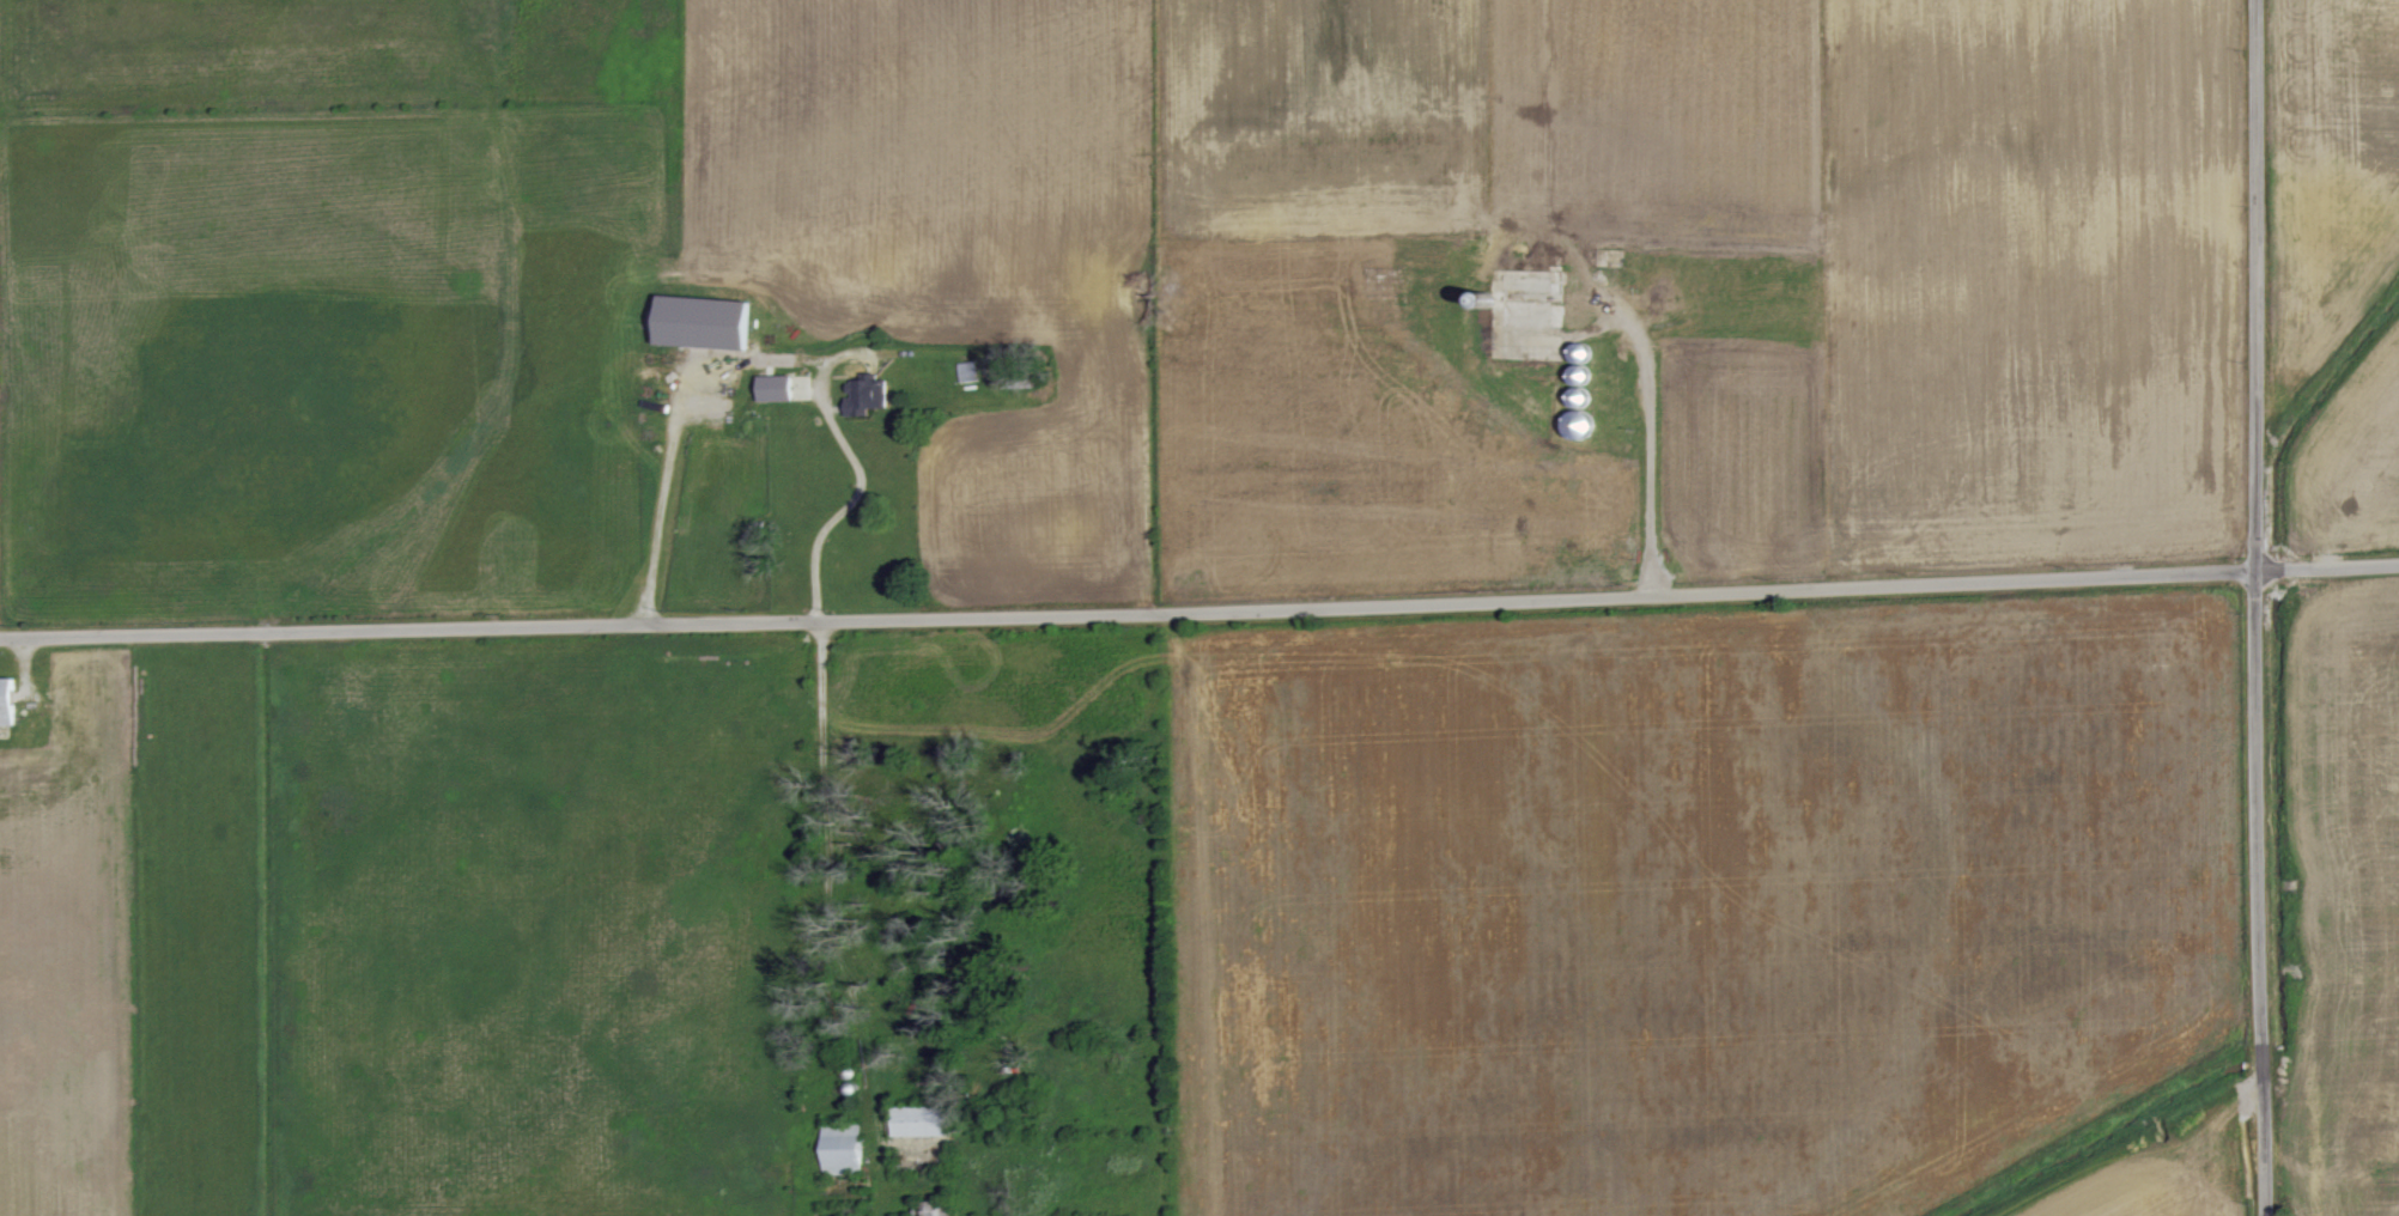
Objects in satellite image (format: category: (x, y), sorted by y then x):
building: (1535, 296)
building: (703, 322)
building: (776, 388)
building: (867, 395)
road: (1650, 452)
road: (849, 503)
road: (661, 504)
road: (1199, 608)
road: (2259, 608)
building: (6, 701)
road: (834, 882)
building: (921, 1121)
building: (843, 1149)

